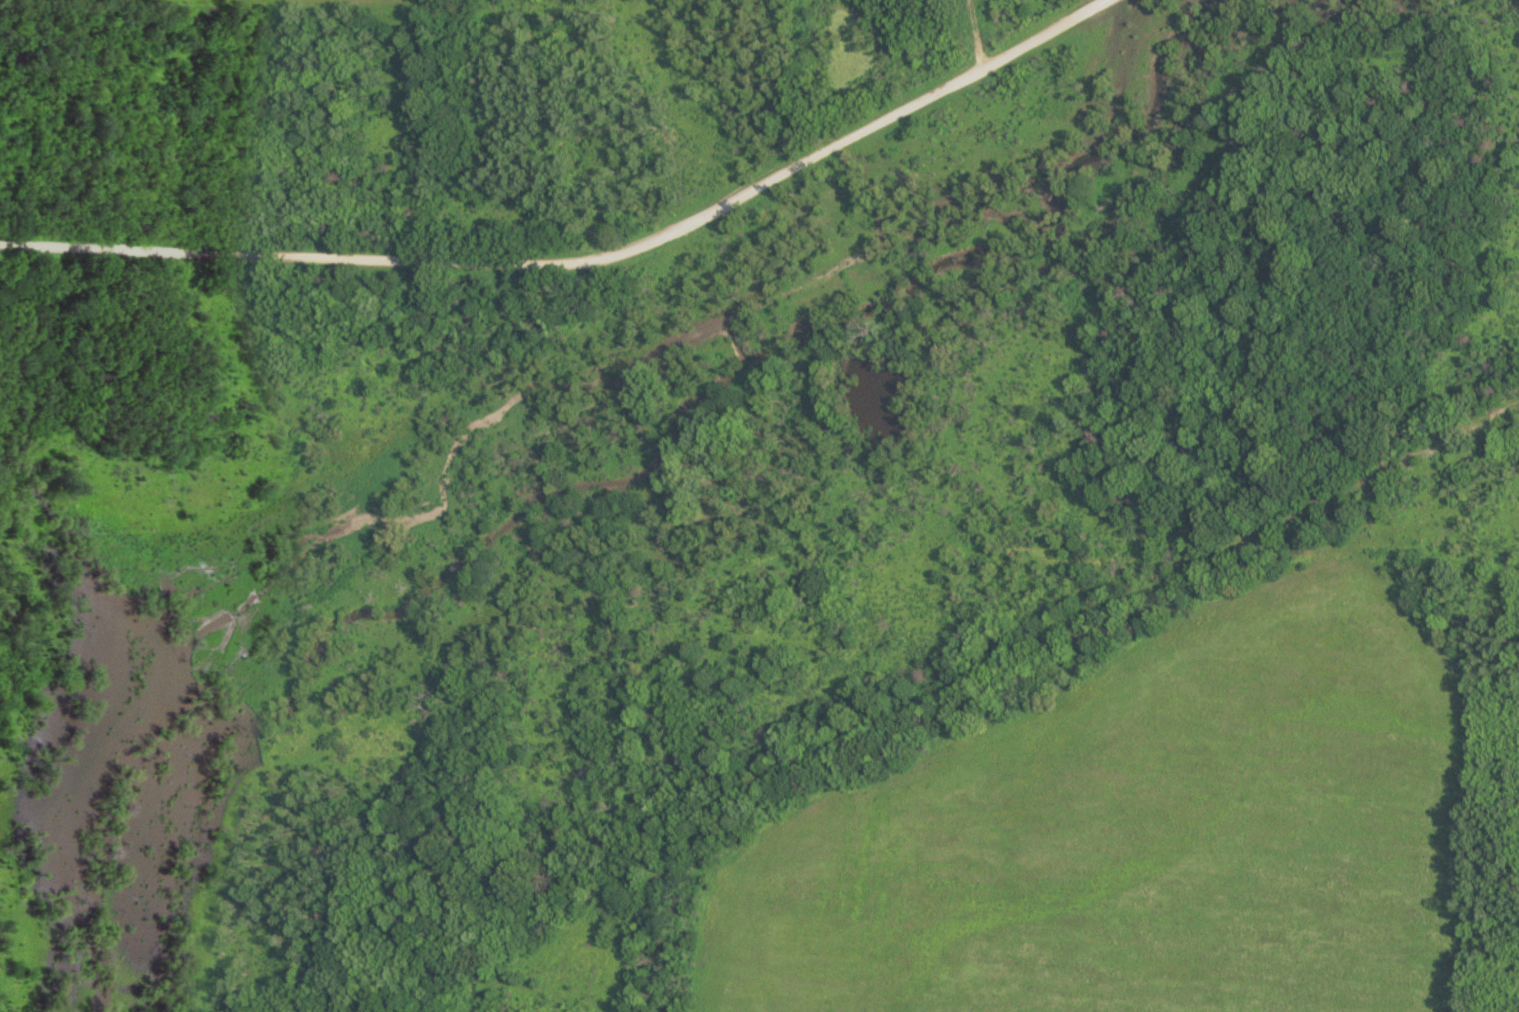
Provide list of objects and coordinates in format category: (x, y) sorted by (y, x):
road: (560, 242)

